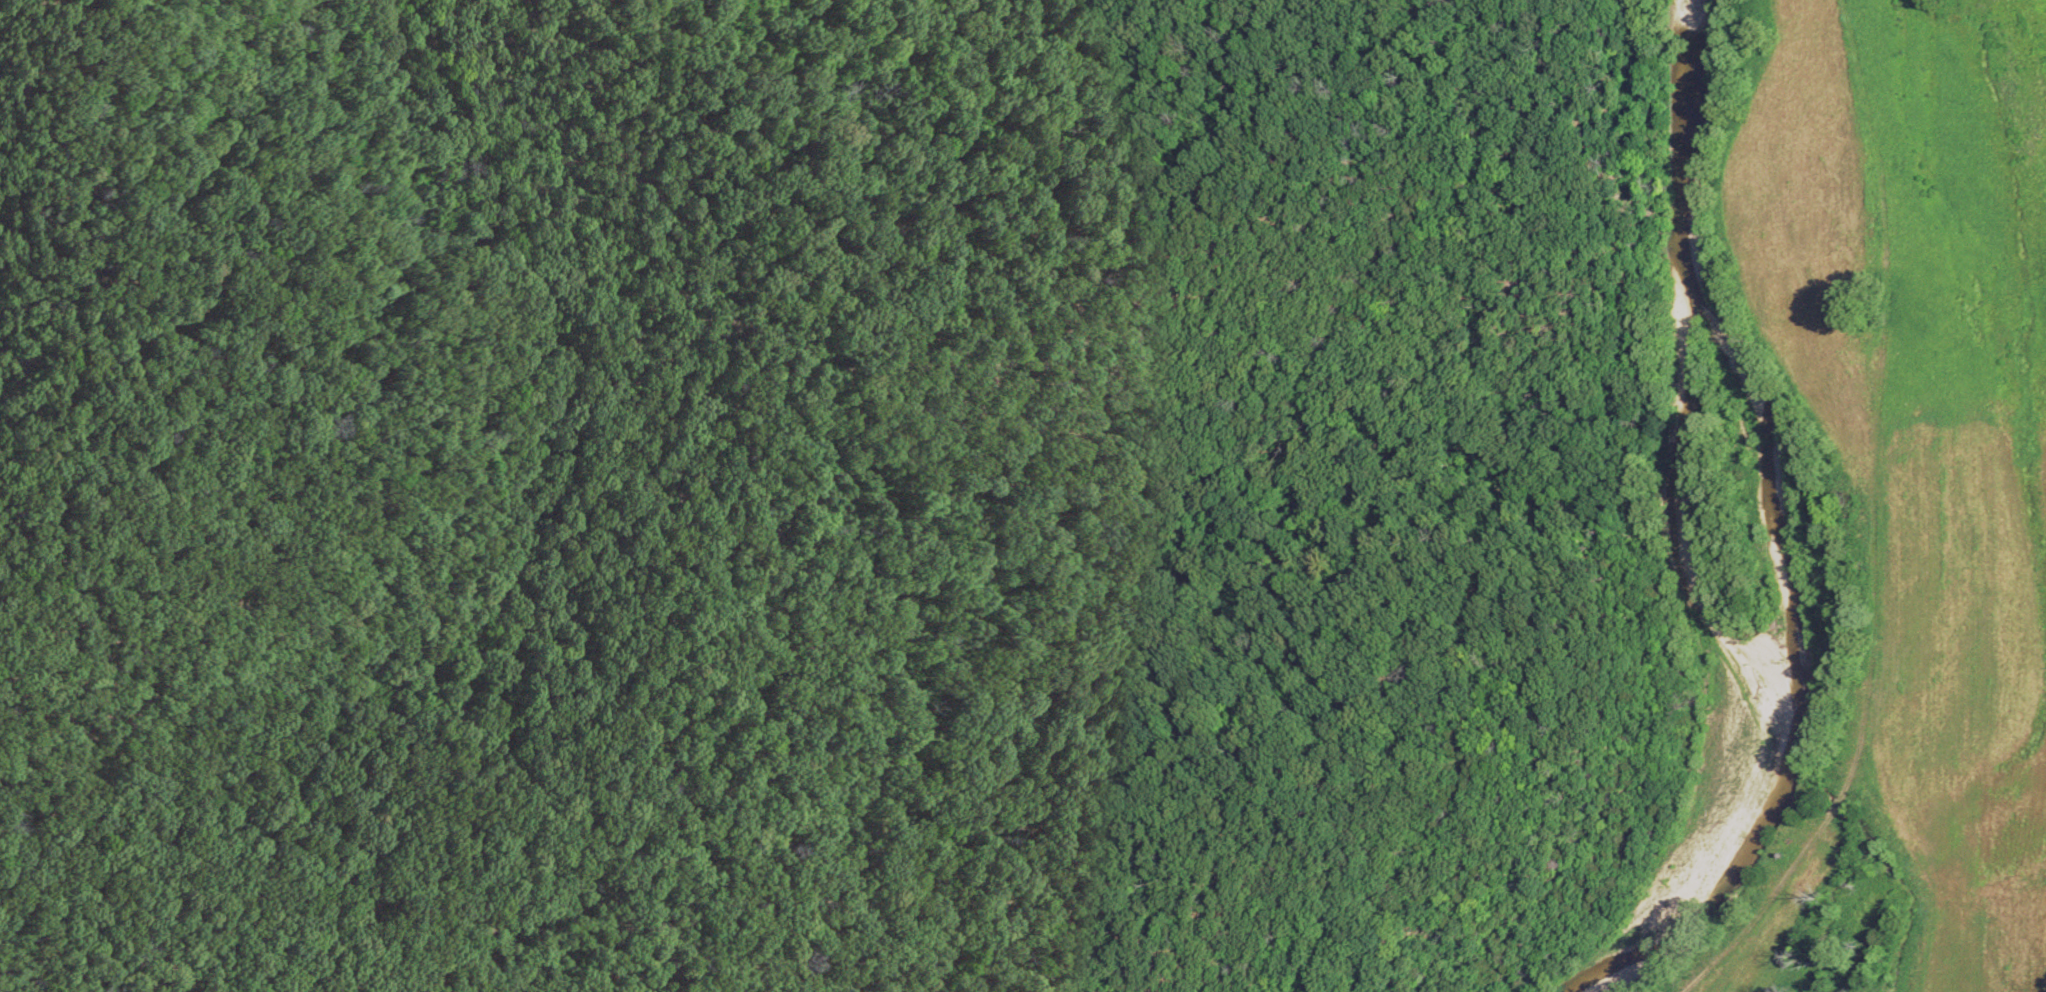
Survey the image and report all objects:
river: (1780, 521)

